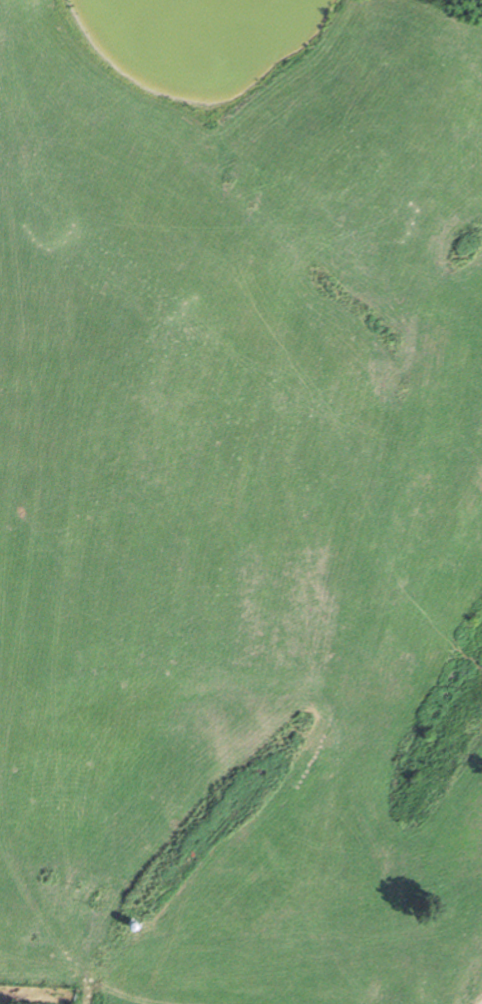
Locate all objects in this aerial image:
road: (478, 992)

